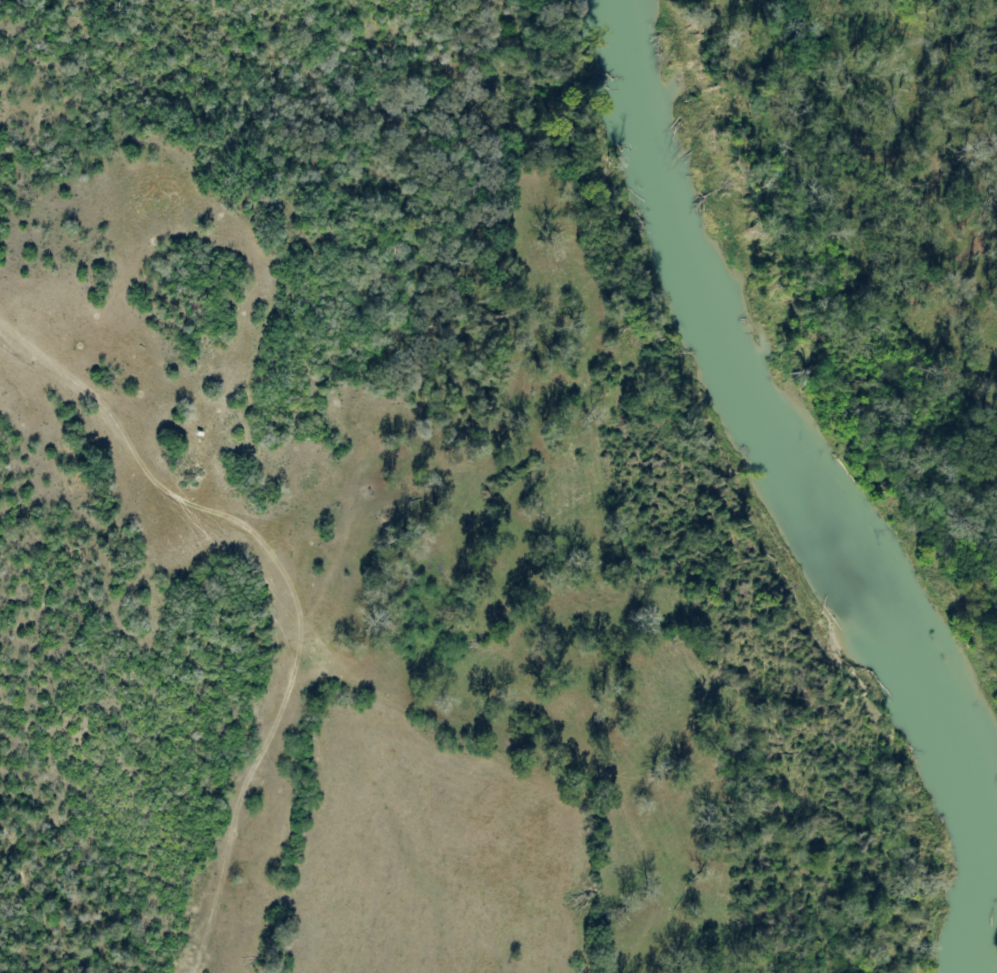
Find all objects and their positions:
river: (819, 491)

